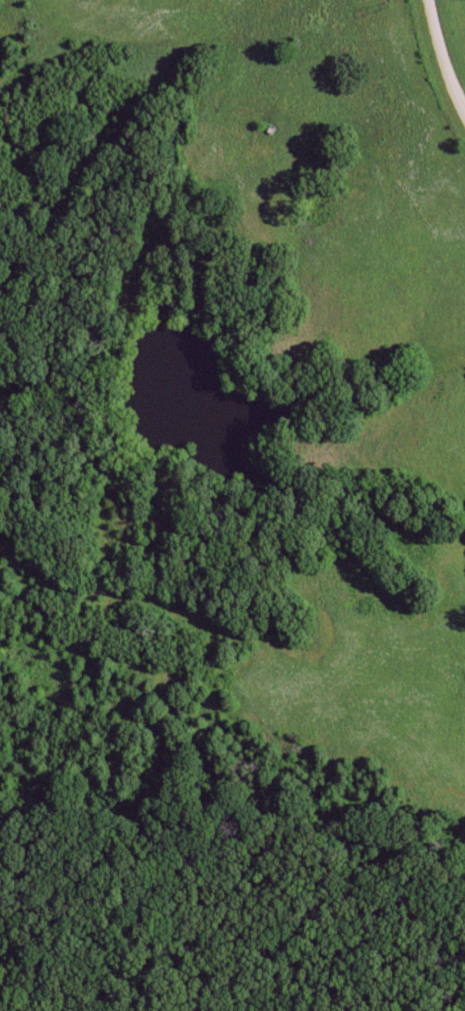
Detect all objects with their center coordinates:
road: (438, 60)

